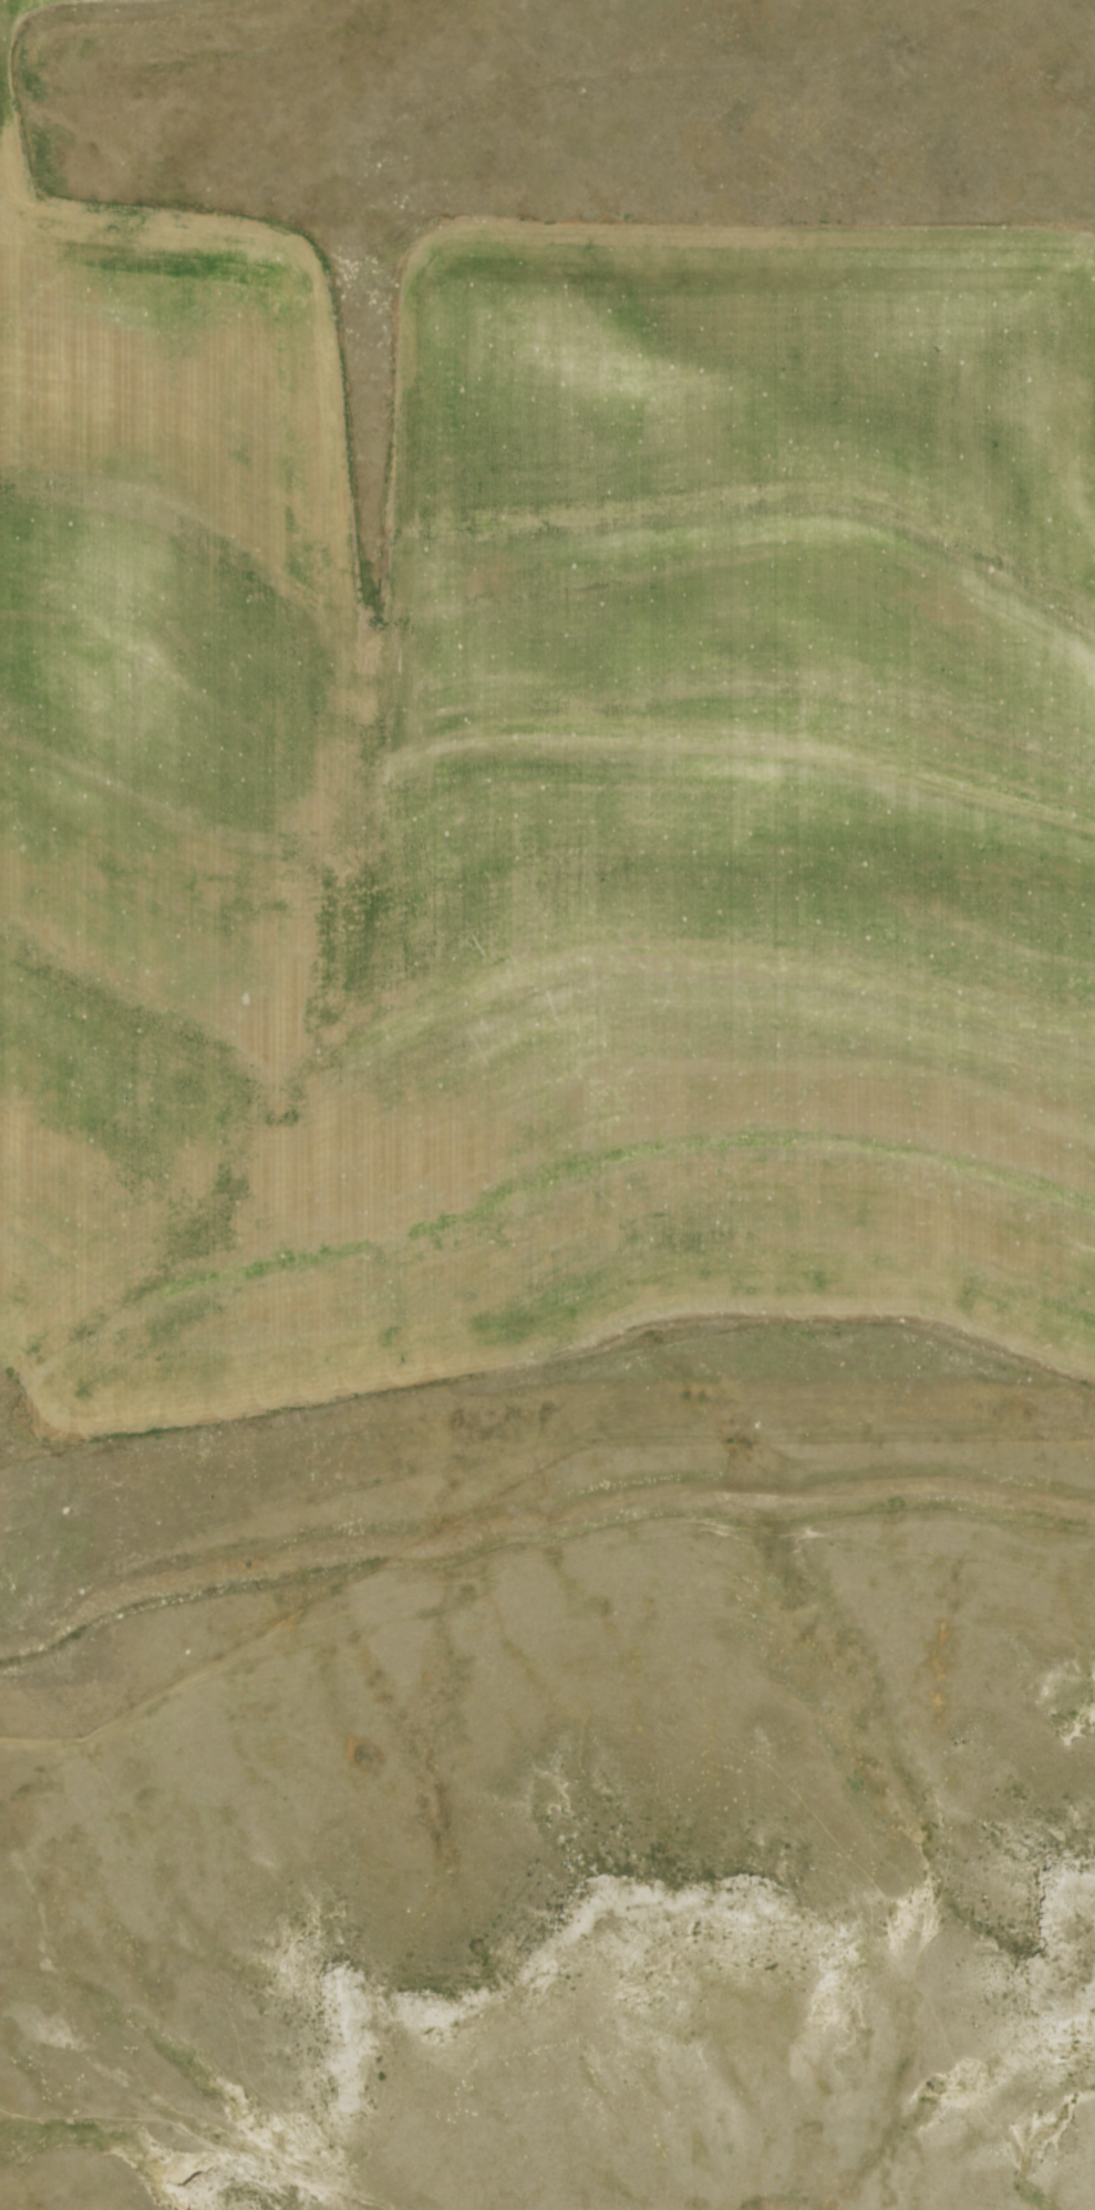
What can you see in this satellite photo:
crop: (537, 801)

